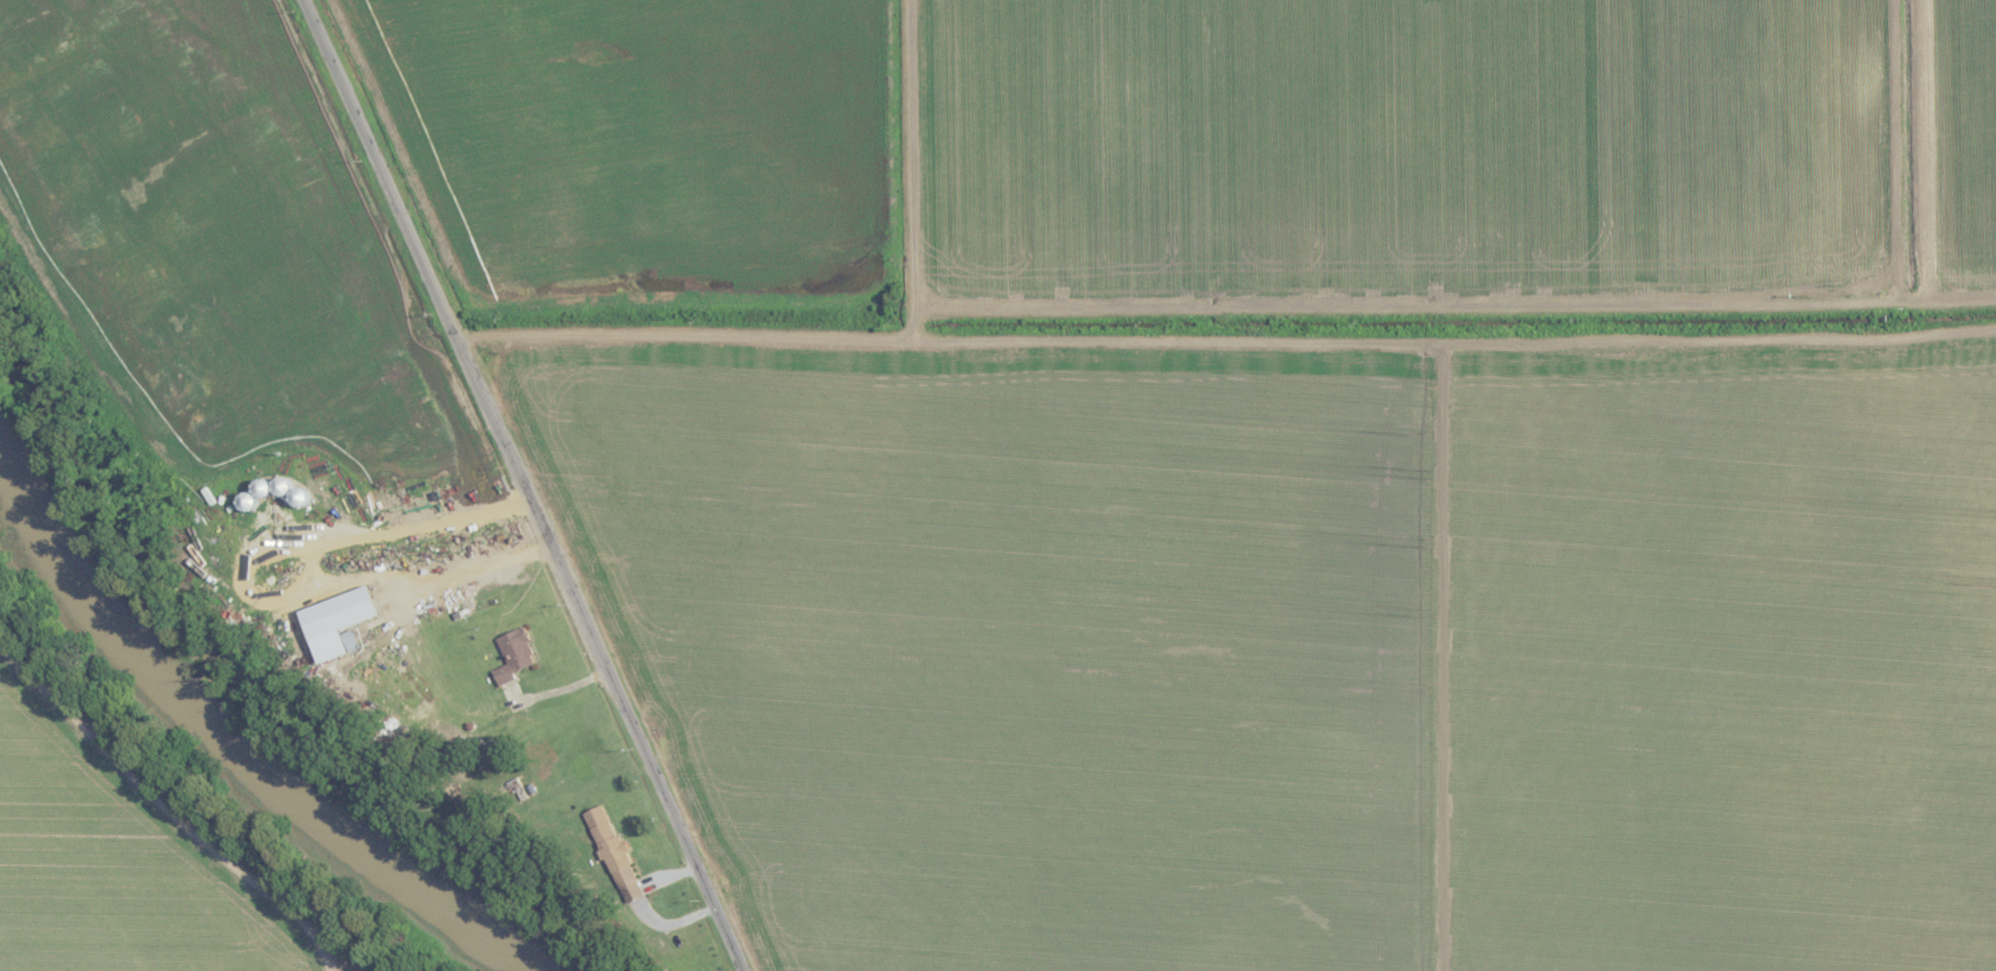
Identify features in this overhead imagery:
road: (519, 486)
building: (277, 491)
building: (488, 605)
building: (348, 641)
building: (514, 650)
building: (521, 787)
building: (616, 862)

